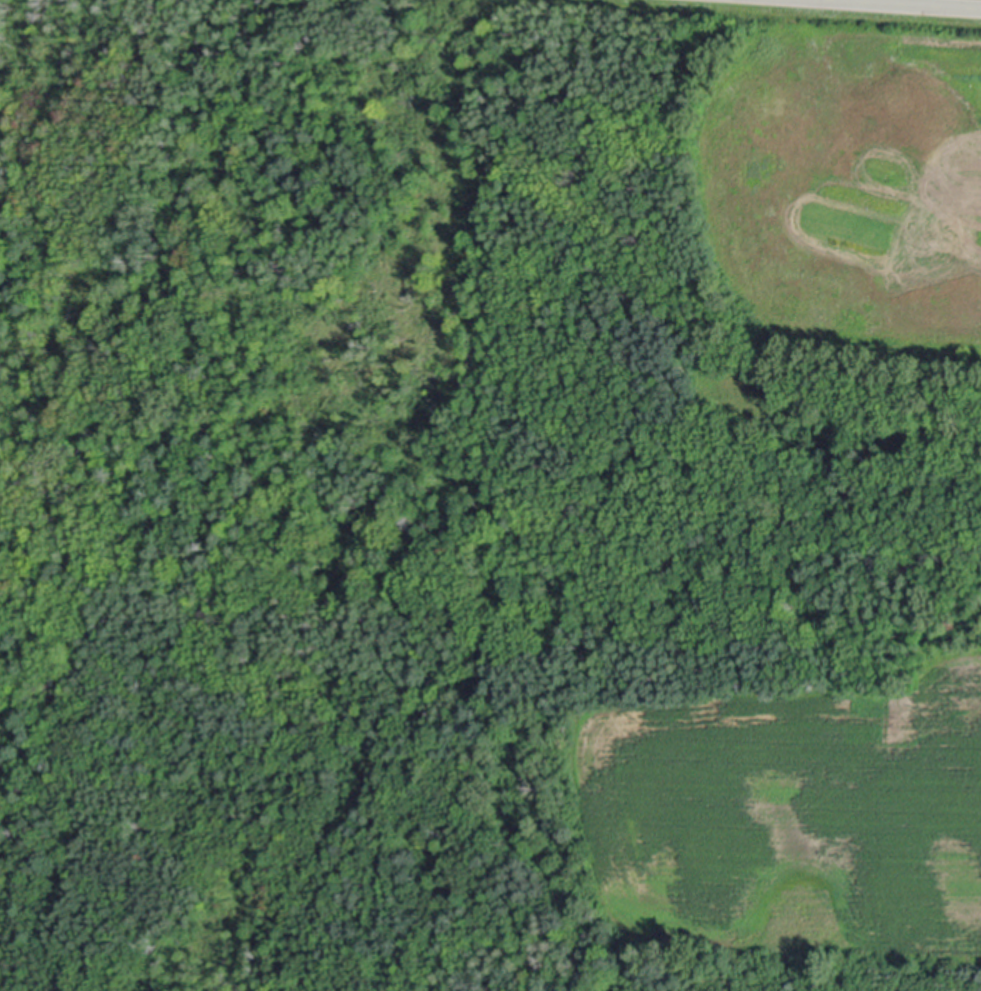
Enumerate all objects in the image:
road: (927, 3)

